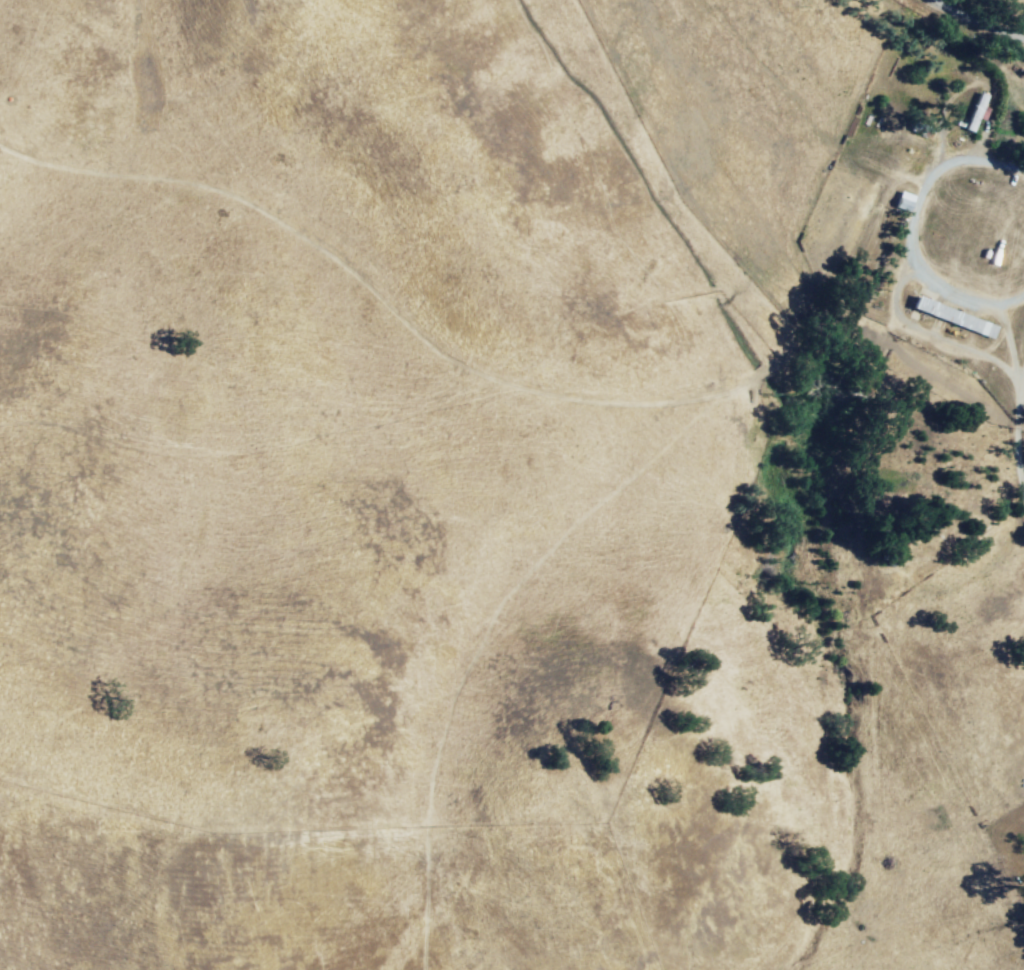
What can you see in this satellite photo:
road: (968, 25)
building: (920, 91)
building: (970, 122)
road: (917, 228)
building: (952, 320)
road: (924, 336)
road: (1010, 337)
road: (1010, 454)

